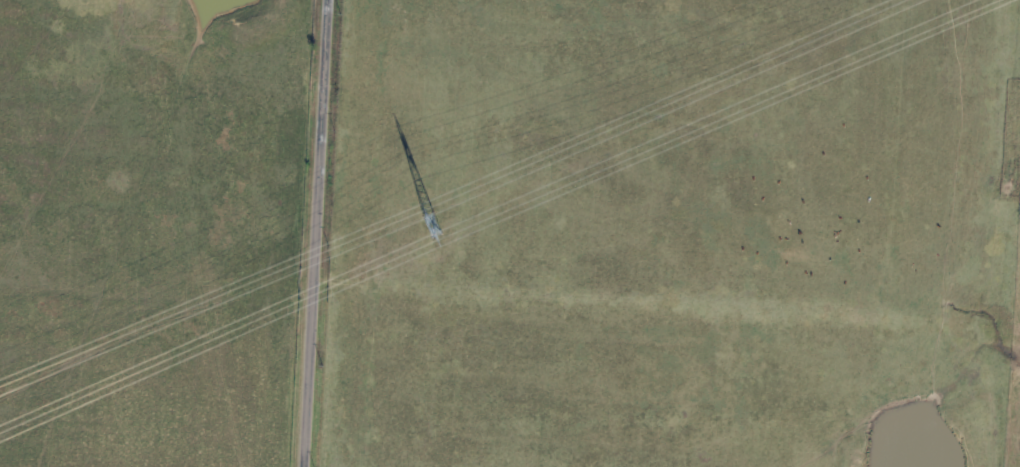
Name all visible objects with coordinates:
power tower: (433, 223)
road: (313, 233)

